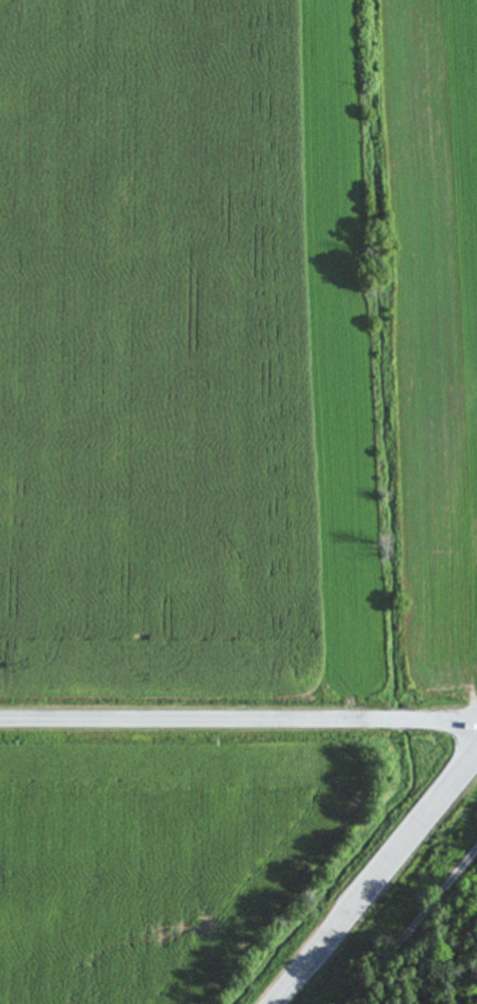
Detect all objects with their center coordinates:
road: (238, 719)
road: (379, 880)
road: (414, 926)

